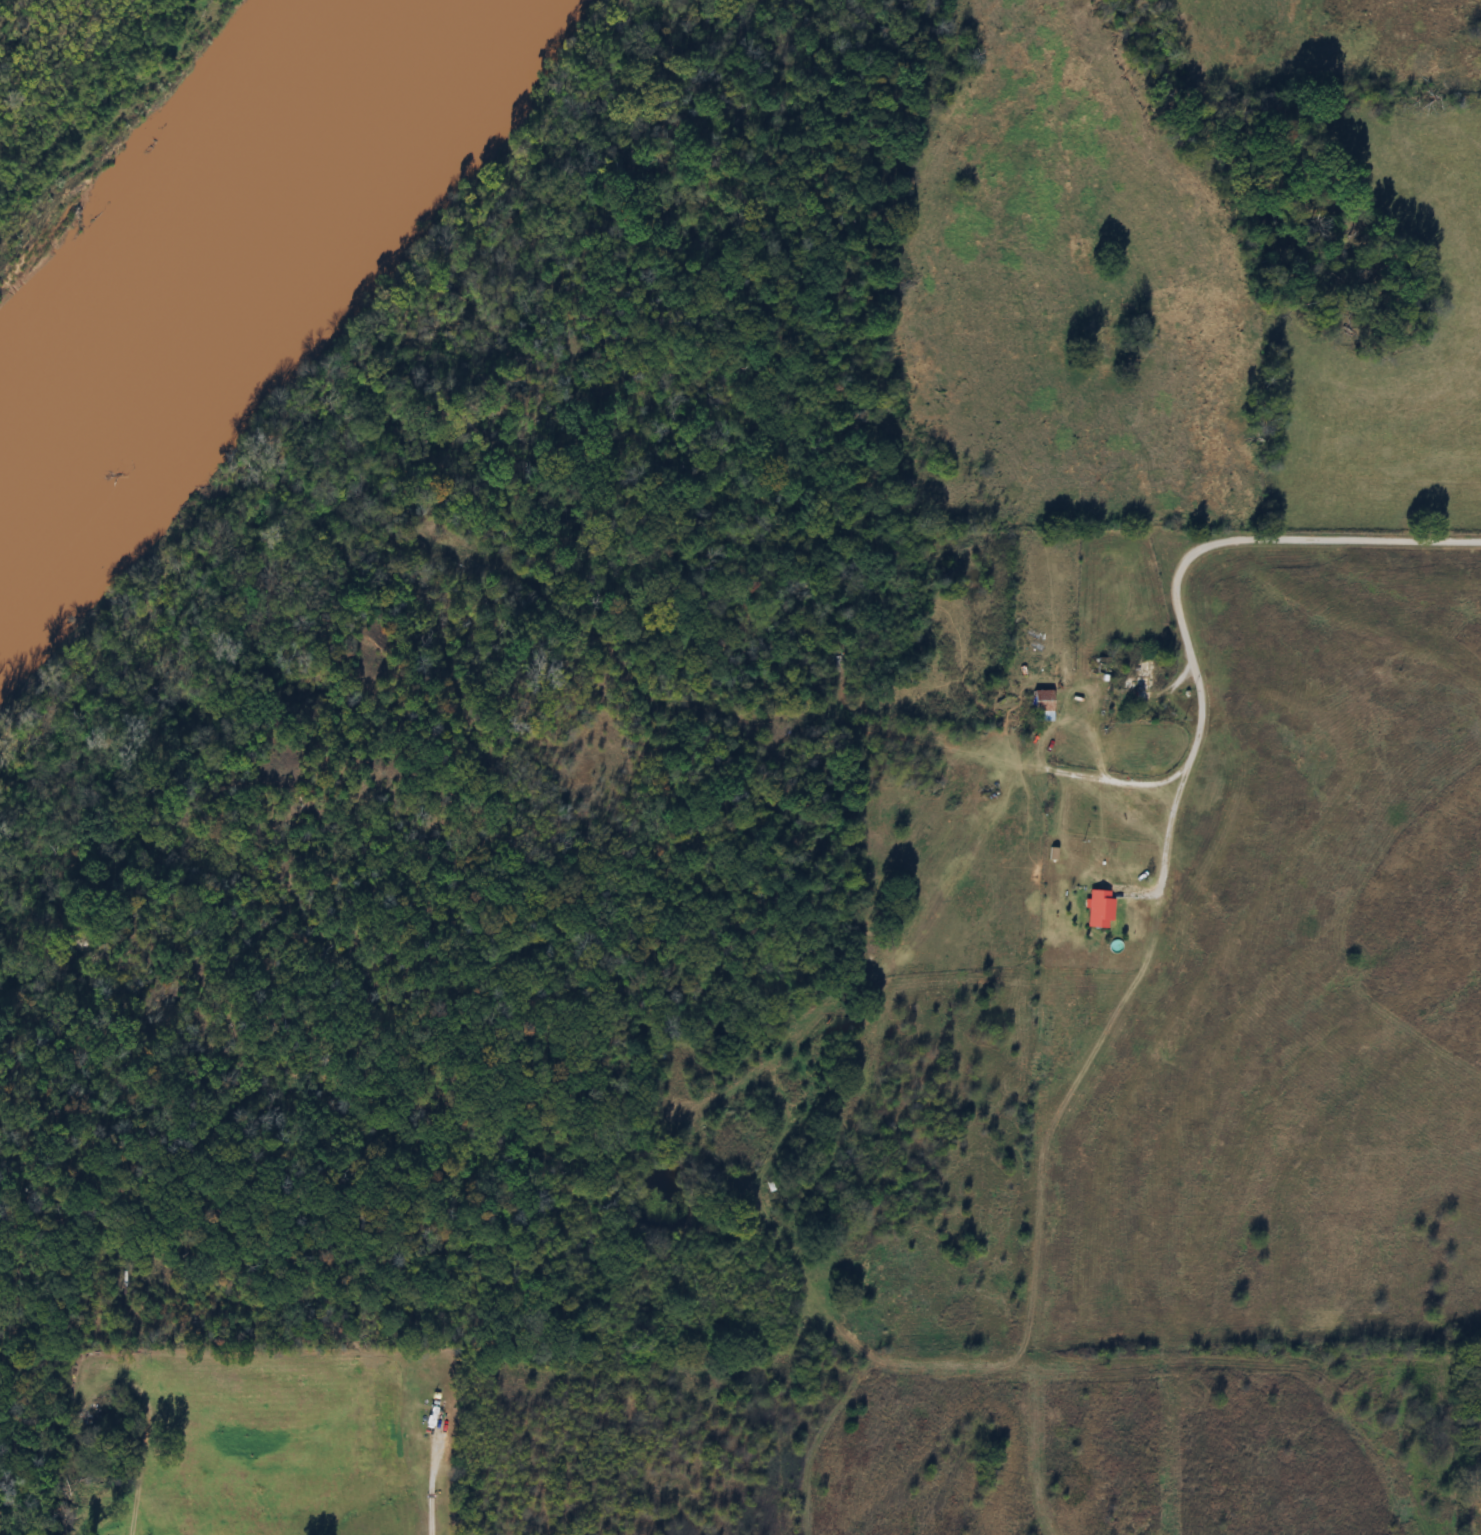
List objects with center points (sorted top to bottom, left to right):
river: (212, 242)
road: (1339, 543)
road: (1181, 606)
building: (1139, 679)
building: (1040, 702)
building: (418, 1423)

